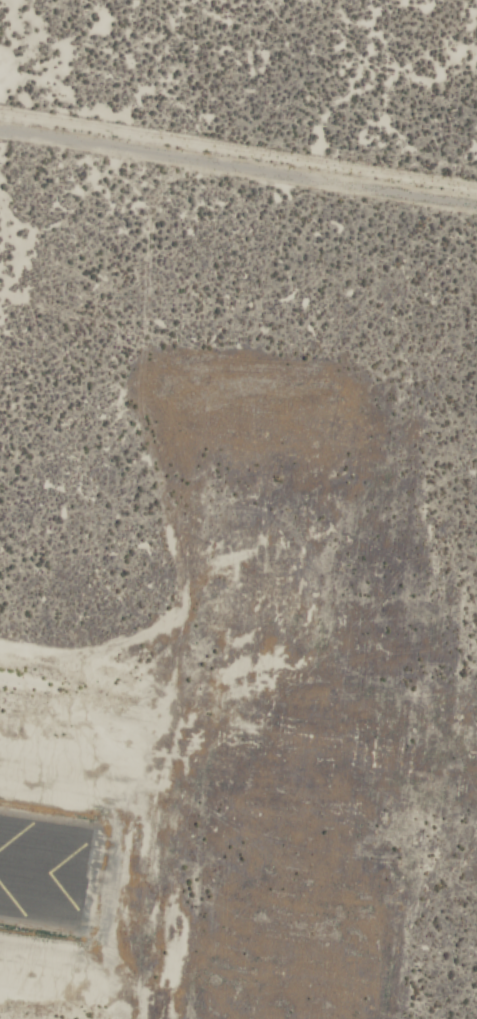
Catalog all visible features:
airport: (238, 509)
airport runway: (40, 874)

